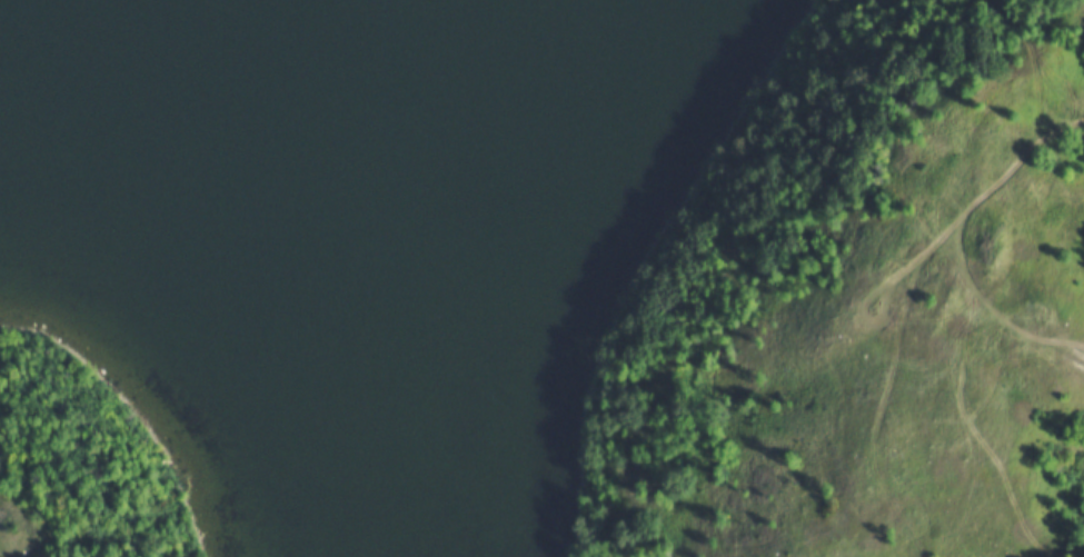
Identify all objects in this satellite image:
road: (1060, 358)

